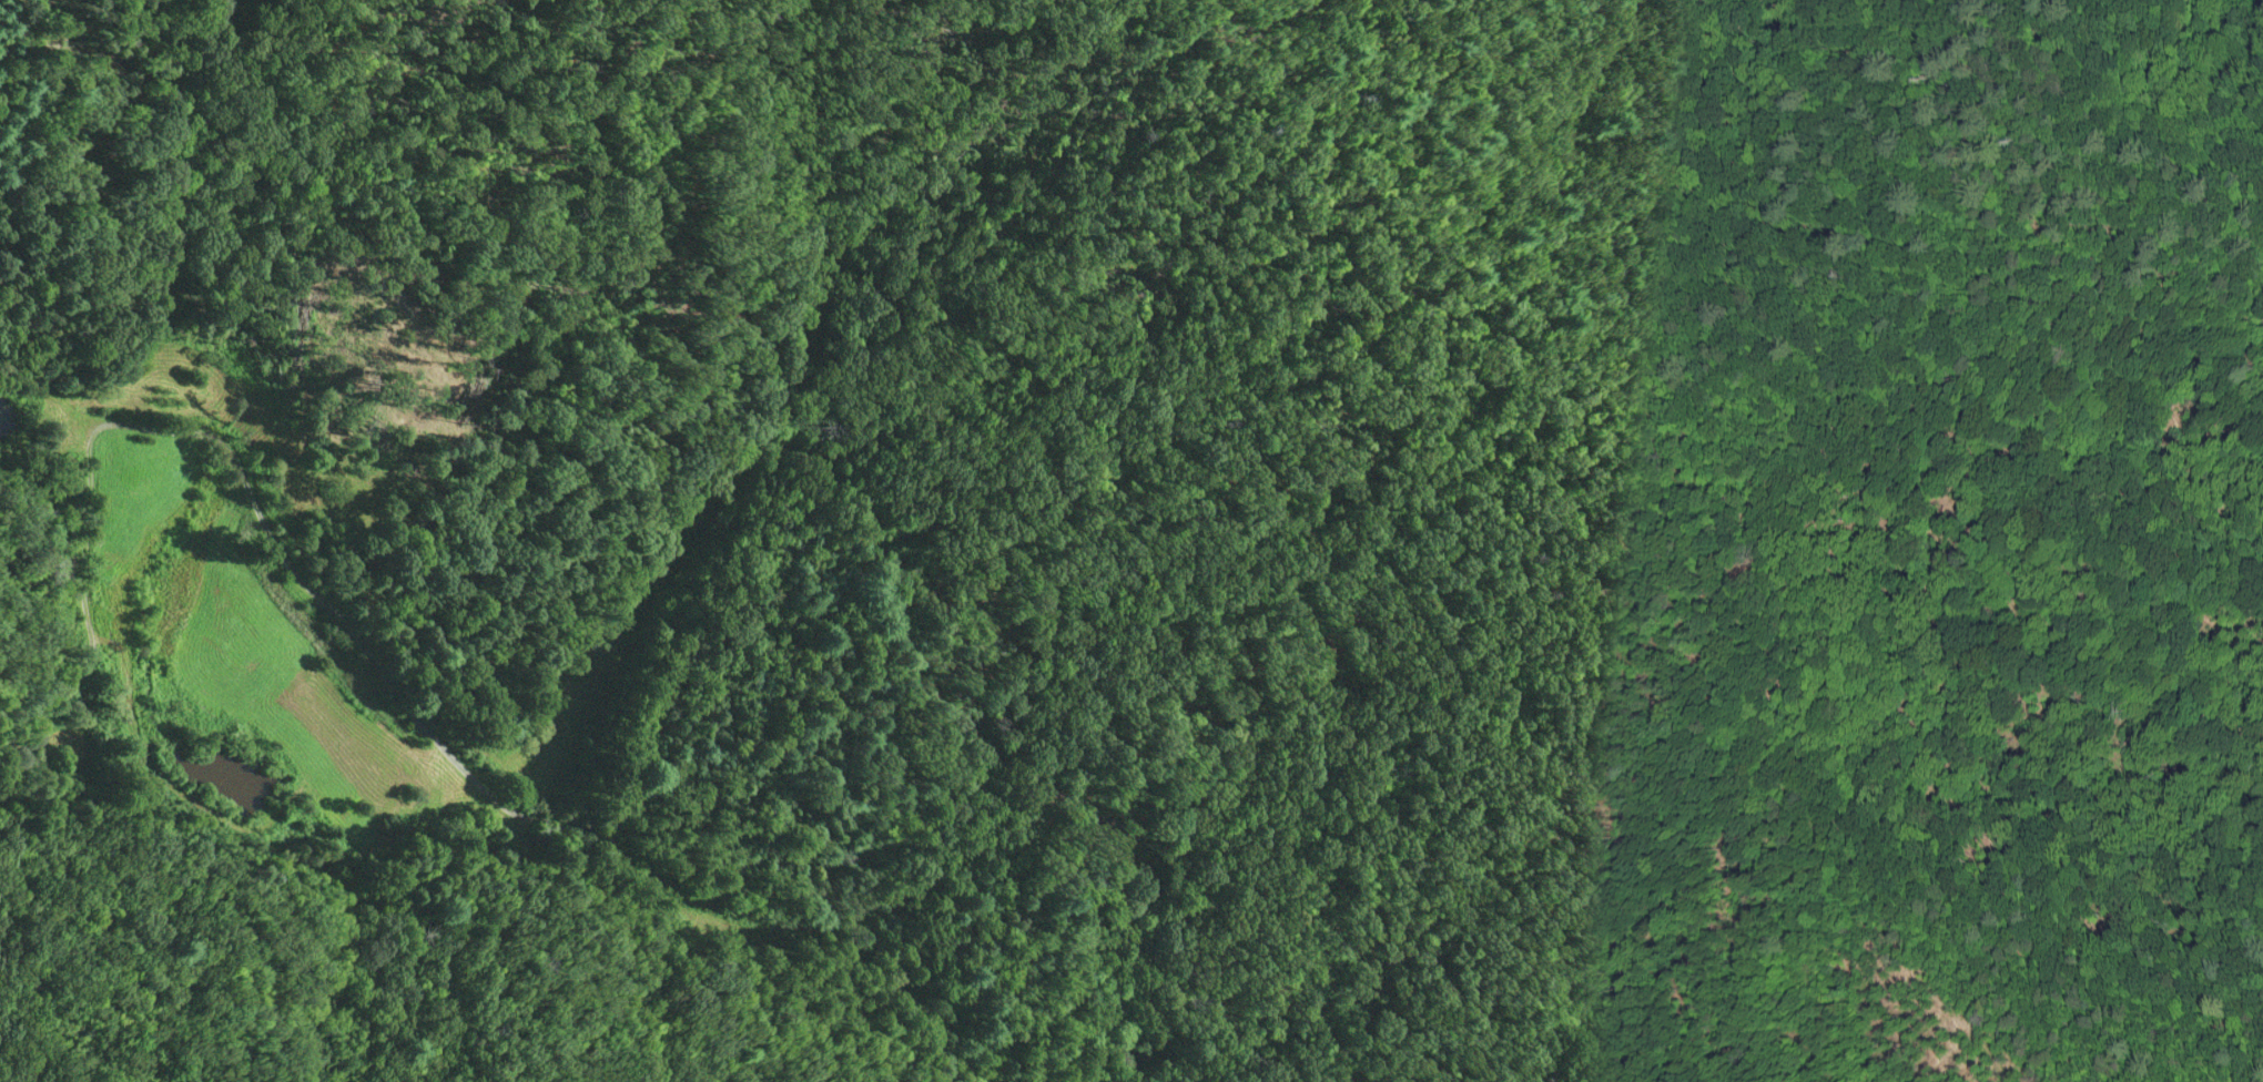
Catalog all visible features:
road: (1741, 426)
road: (371, 659)

